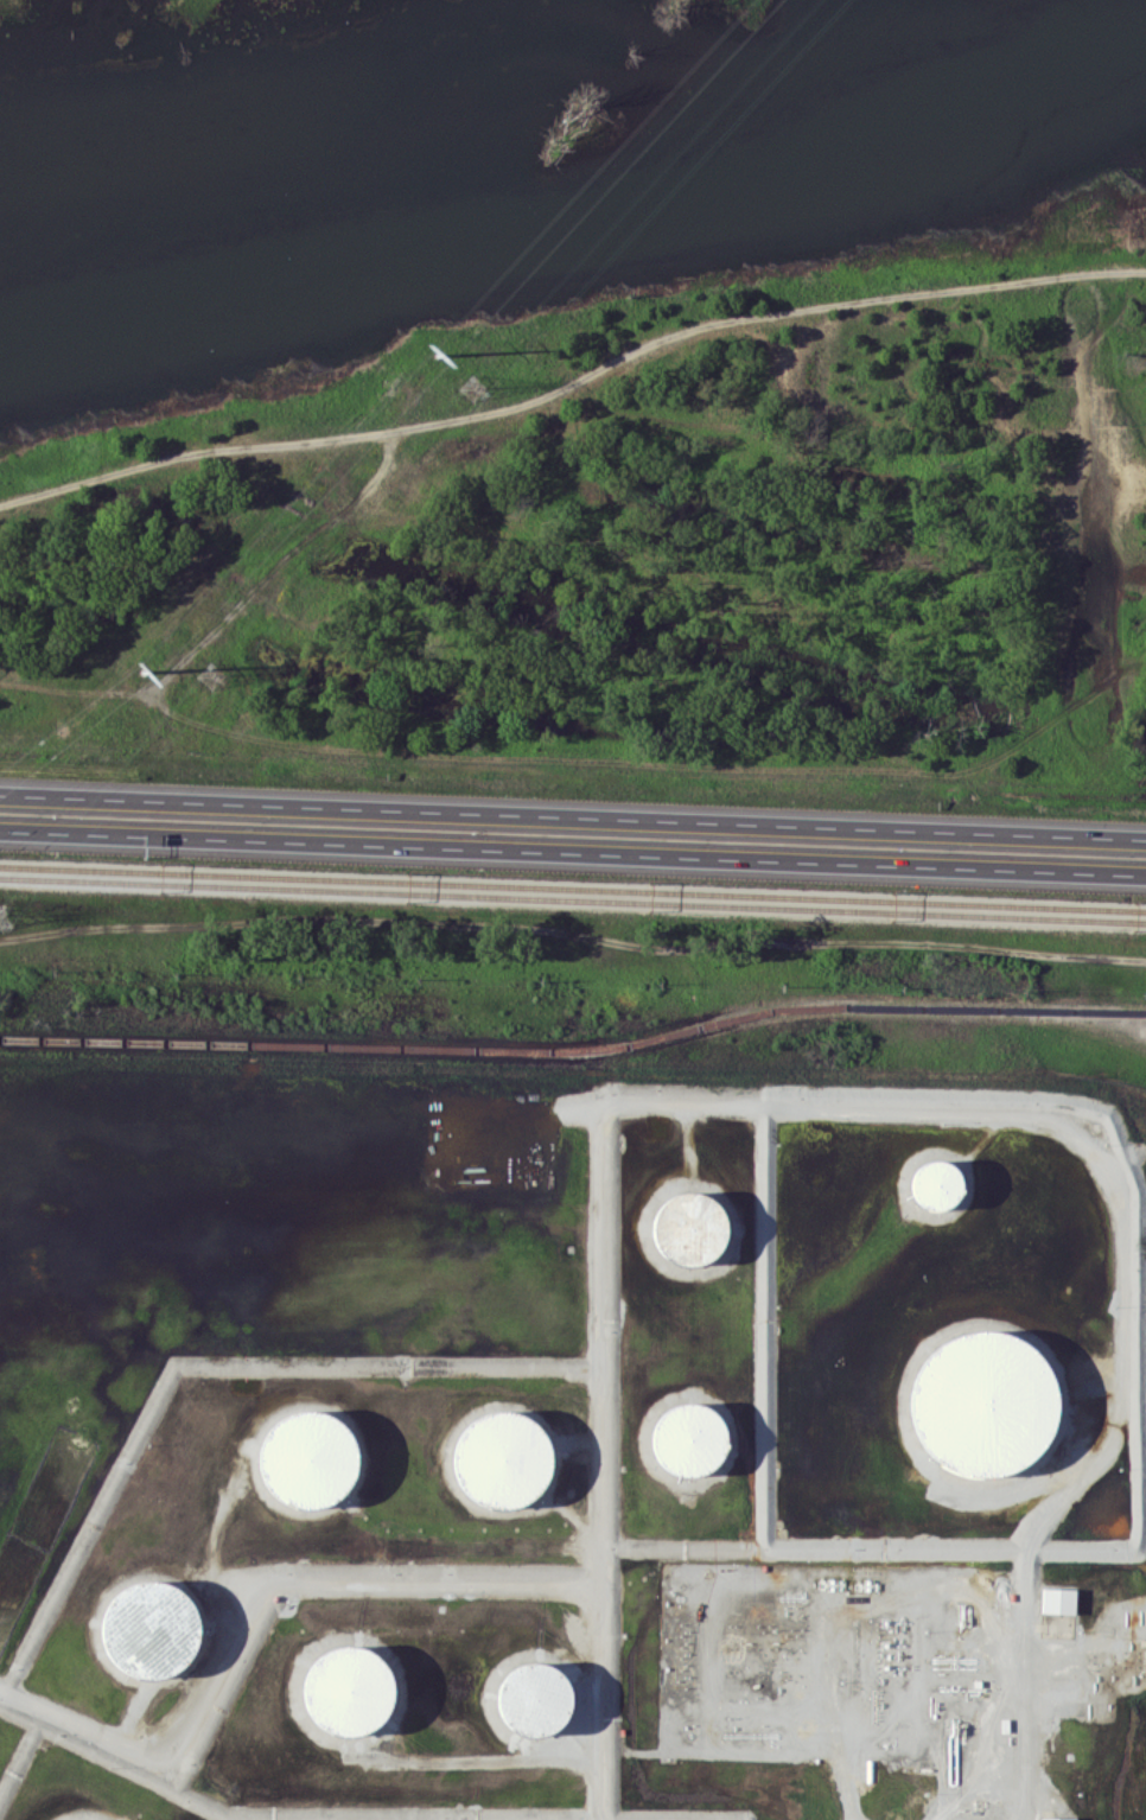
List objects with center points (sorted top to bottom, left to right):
river: (580, 224)
power tower: (435, 354)
railway: (577, 394)
power tower: (141, 670)
road: (580, 753)
road: (167, 798)
road: (740, 821)
road: (167, 834)
road: (740, 857)
railway: (573, 890)
railway: (573, 903)
railway: (575, 1052)
building: (935, 1183)
building: (688, 1228)
building: (982, 1402)
building: (688, 1438)
road: (346, 1578)
building: (1057, 1599)
building: (346, 1689)
building: (1057, 1818)

